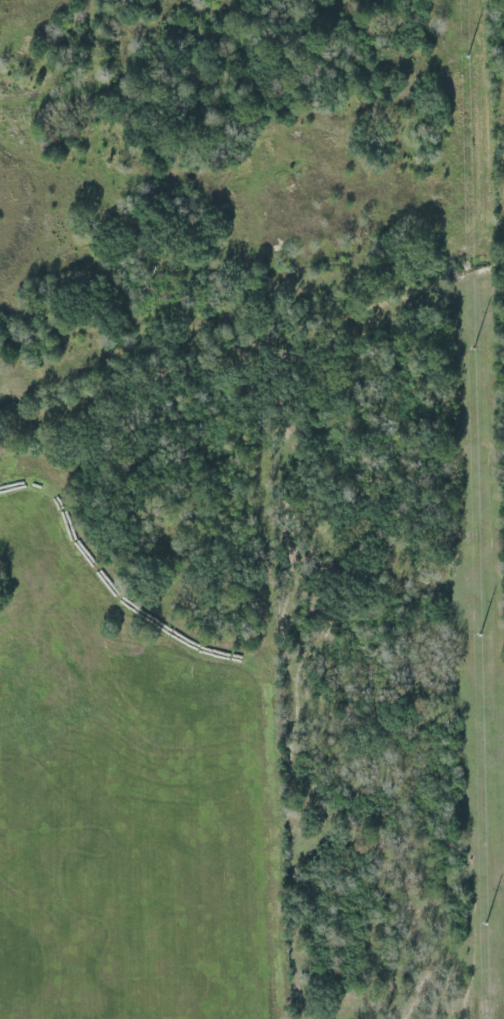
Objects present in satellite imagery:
power tower: (465, 50)
power tower: (472, 344)
power tower: (478, 631)
power tower: (484, 919)

